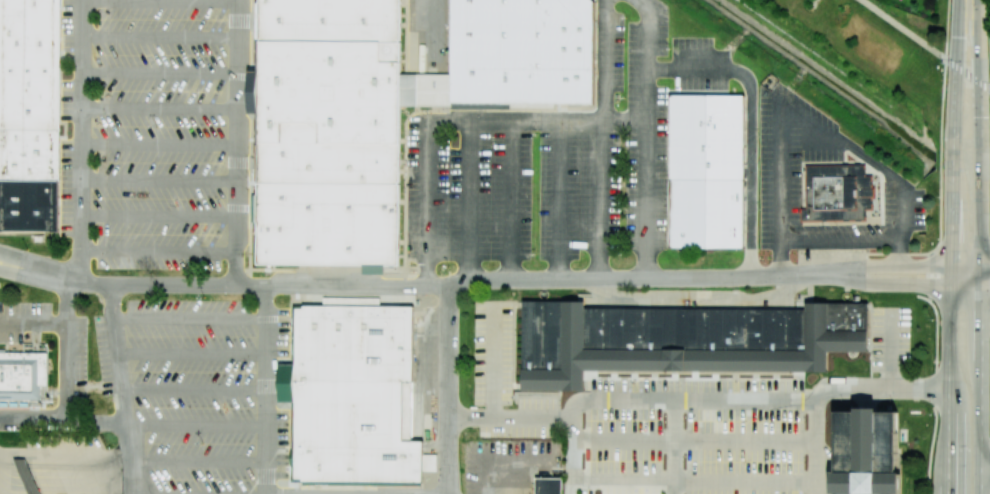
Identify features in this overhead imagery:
road: (159, 3)
road: (903, 29)
road: (947, 29)
road: (432, 31)
road: (959, 32)
road: (159, 37)
road: (989, 40)
road: (606, 60)
road: (951, 62)
traffic signals: (957, 66)
road: (698, 71)
road: (159, 72)
road: (973, 77)
river: (824, 78)
traffic signals: (981, 84)
road: (159, 107)
building: (386, 109)
building: (28, 115)
road: (803, 116)
road: (455, 121)
parking lot: (155, 131)
road: (645, 139)
road: (81, 140)
road: (237, 142)
road: (159, 146)
parking lot: (560, 156)
building: (705, 170)
parking lot: (780, 171)
river: (962, 177)
road: (750, 179)
road: (940, 180)
road: (159, 181)
building: (837, 193)
road: (510, 200)
road: (560, 200)
road: (599, 200)
road: (468, 201)
road: (159, 218)
road: (840, 240)
road: (982, 246)
road: (159, 252)
road: (34, 265)
road: (986, 266)
road: (888, 268)
road: (33, 276)
road: (621, 279)
road: (949, 279)
road: (258, 284)
road: (888, 284)
road: (986, 286)
road: (923, 297)
road: (190, 319)
road: (53, 323)
building: (682, 338)
road: (193, 354)
road: (492, 362)
road: (61, 372)
building: (22, 375)
road: (125, 388)
road: (265, 389)
road: (450, 389)
road: (195, 390)
building: (353, 395)
parking lot: (199, 396)
road: (935, 396)
road: (697, 400)
road: (63, 421)
road: (196, 426)
parking lot: (656, 427)
road: (694, 442)
road: (674, 446)
road: (815, 447)
building: (865, 451)
road: (63, 454)
road: (196, 460)
road: (62, 465)
road: (986, 470)
road: (62, 472)
building: (27, 476)
road: (62, 480)
road: (656, 482)
building: (548, 485)
road: (62, 488)
road: (4, 490)

